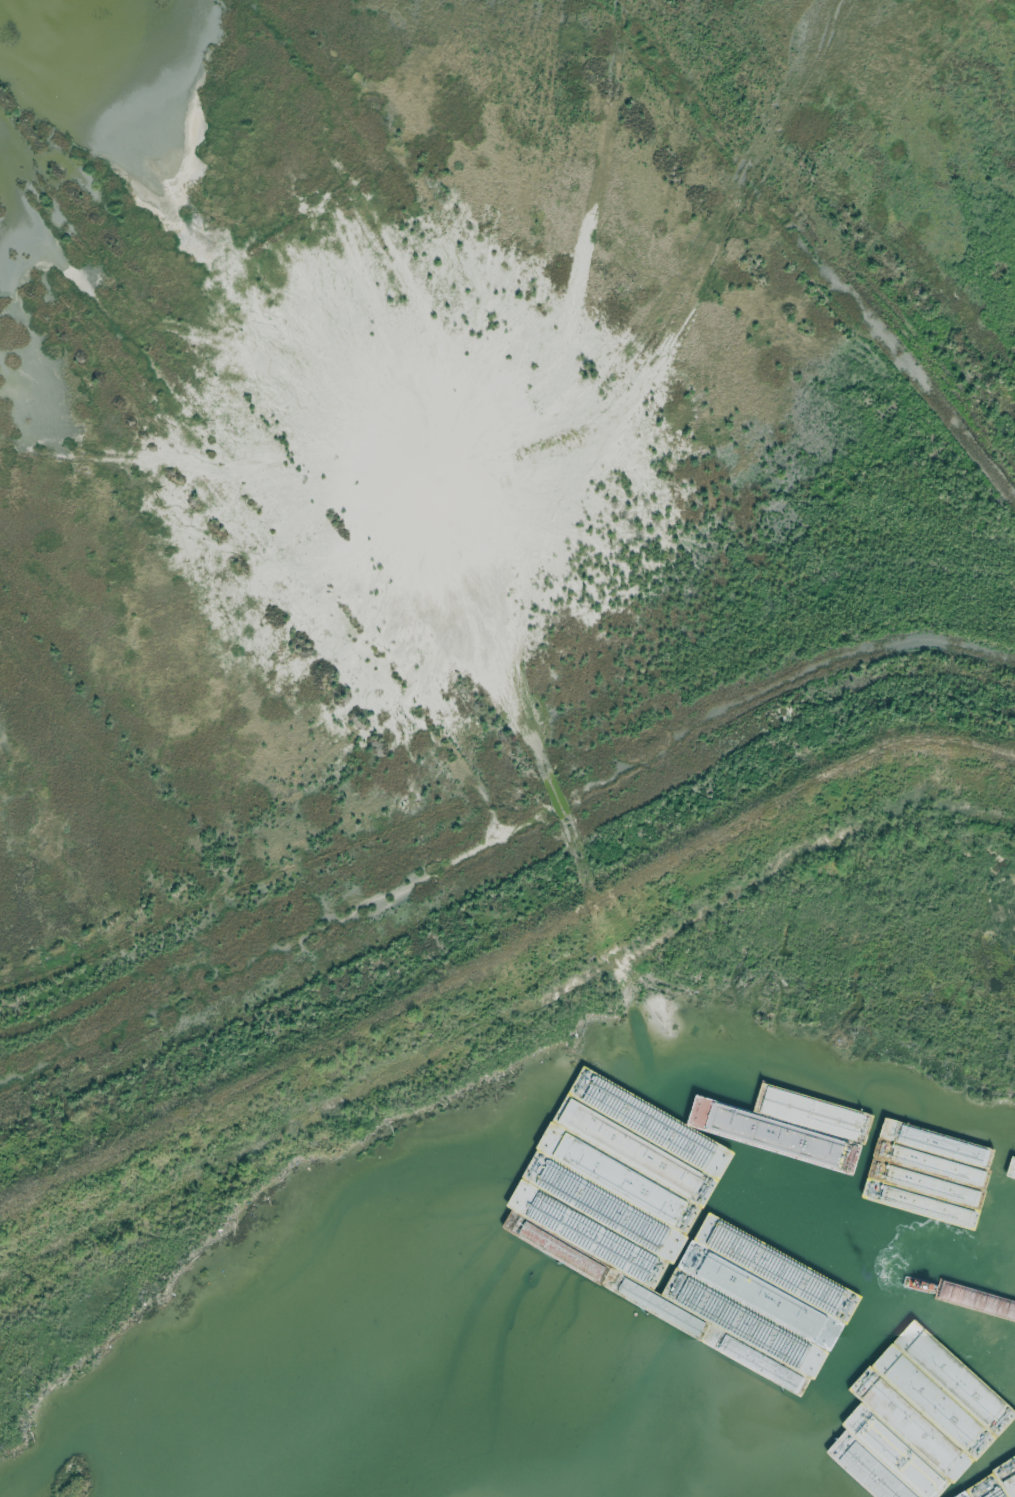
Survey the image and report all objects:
landfill: (484, 598)
building: (1014, 1218)

